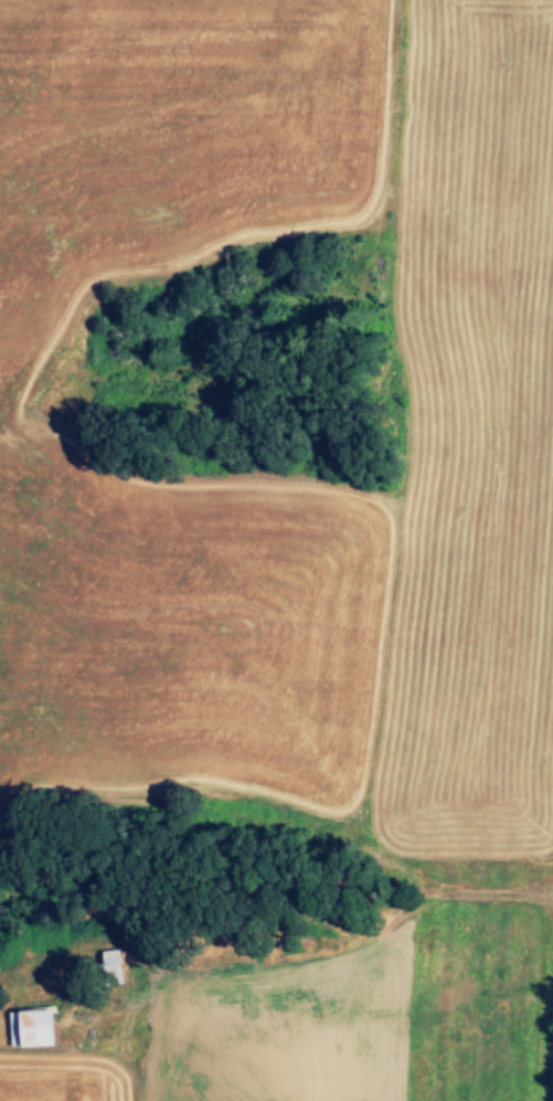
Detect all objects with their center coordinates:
building: (117, 968)
building: (38, 1029)

